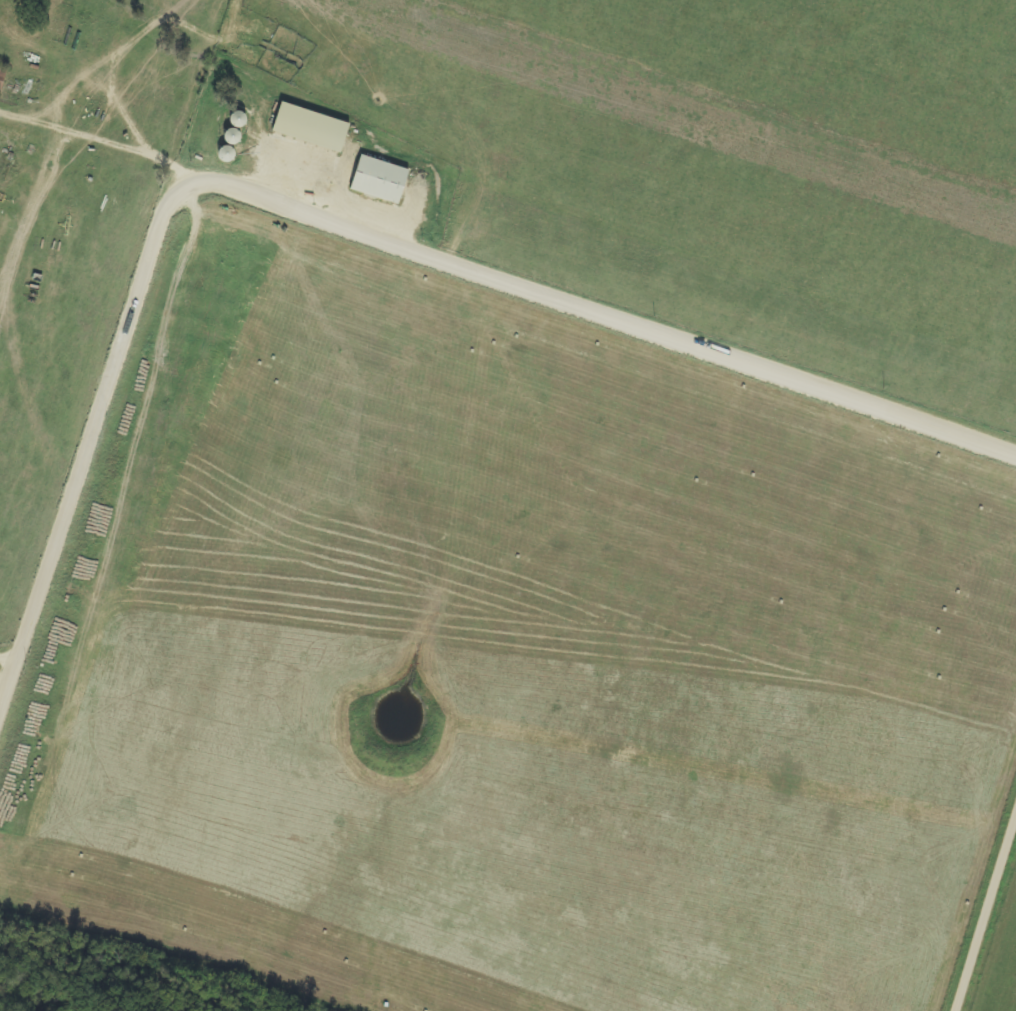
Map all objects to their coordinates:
building: (380, 181)
road: (299, 196)
road: (16, 680)
road: (1000, 963)

